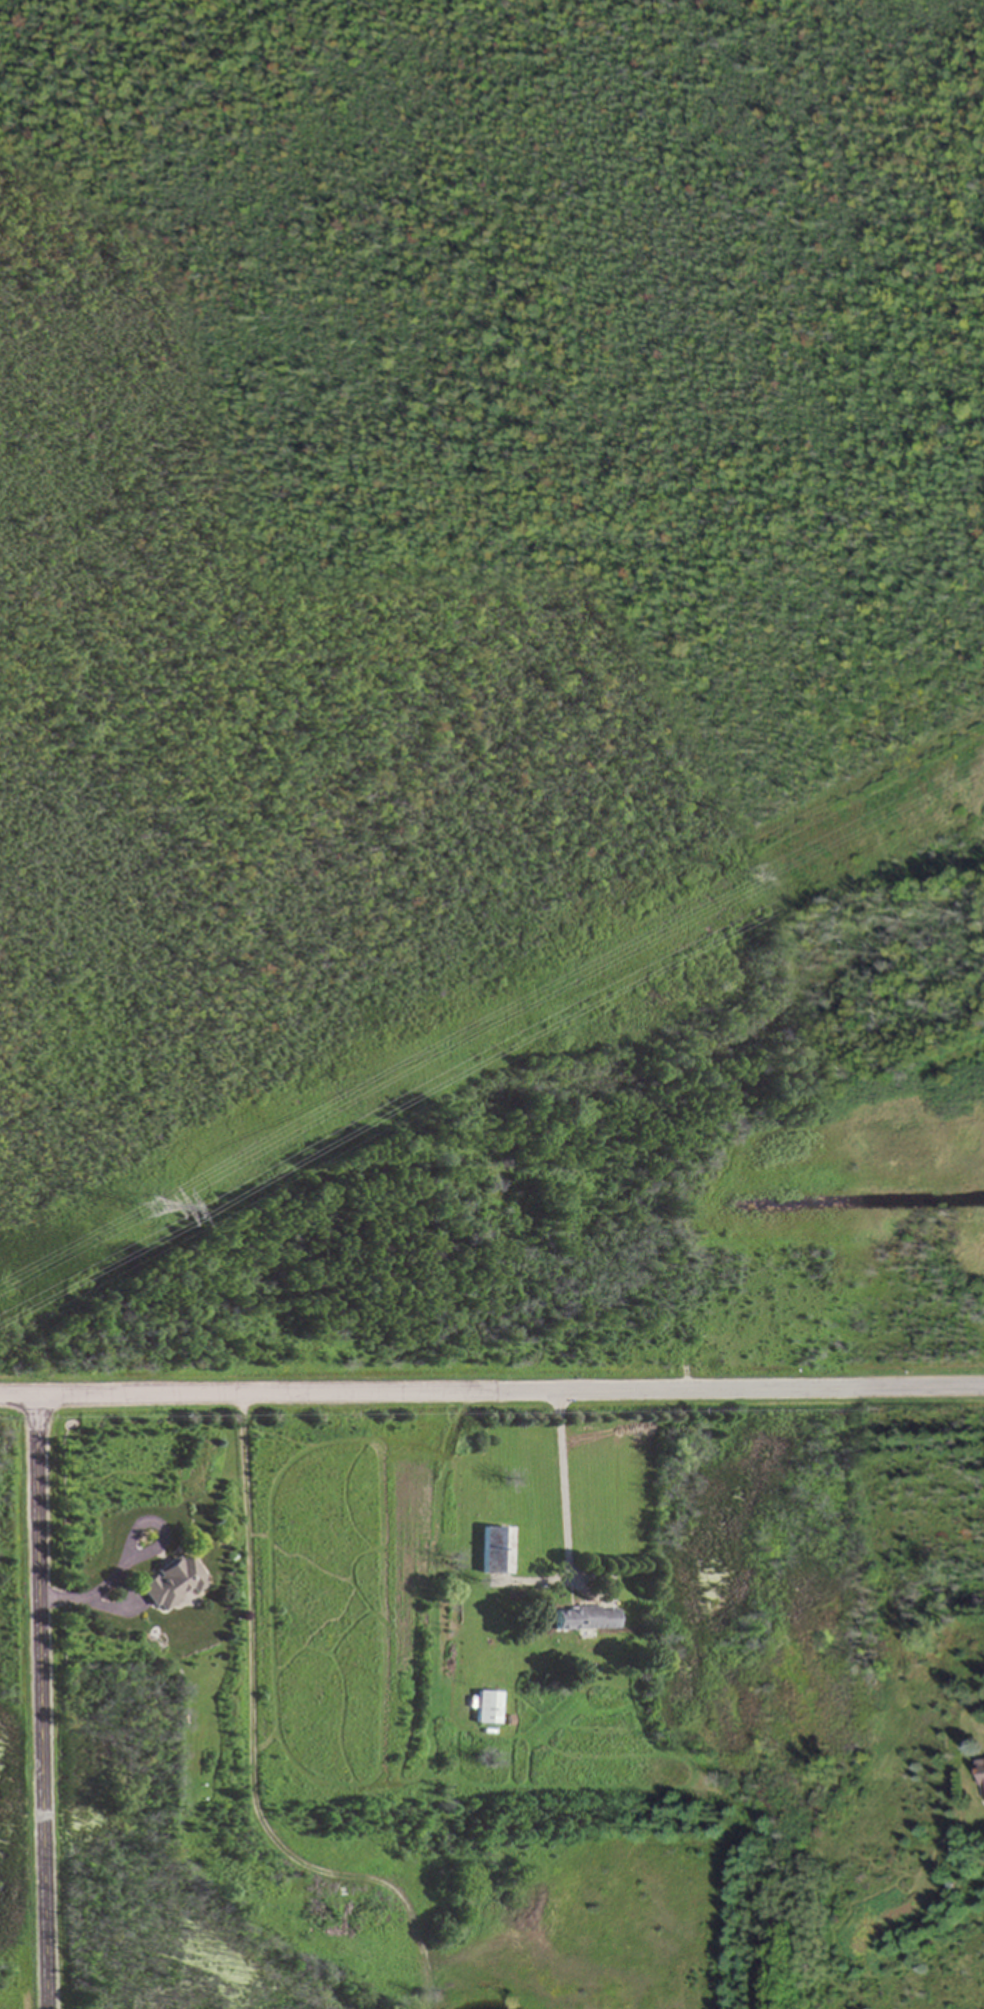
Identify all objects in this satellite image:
power tower: (767, 885)
power tower: (151, 1216)
road: (491, 1390)
road: (563, 1489)
road: (132, 1540)
building: (494, 1551)
building: (171, 1584)
building: (584, 1619)
road: (43, 1701)
building: (487, 1708)
building: (982, 1779)

